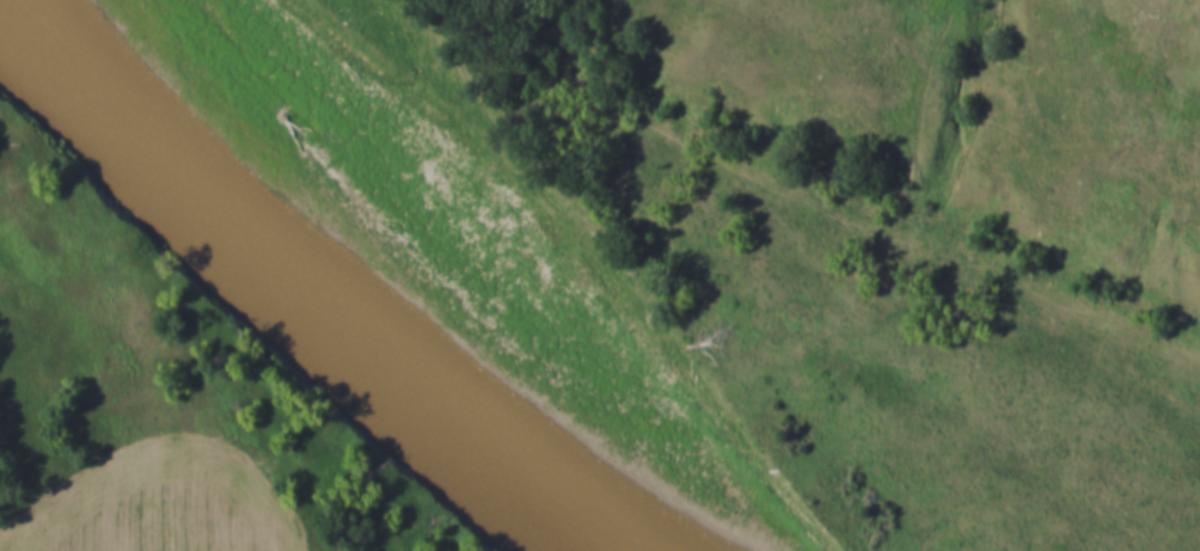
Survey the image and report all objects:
river: (399, 275)

